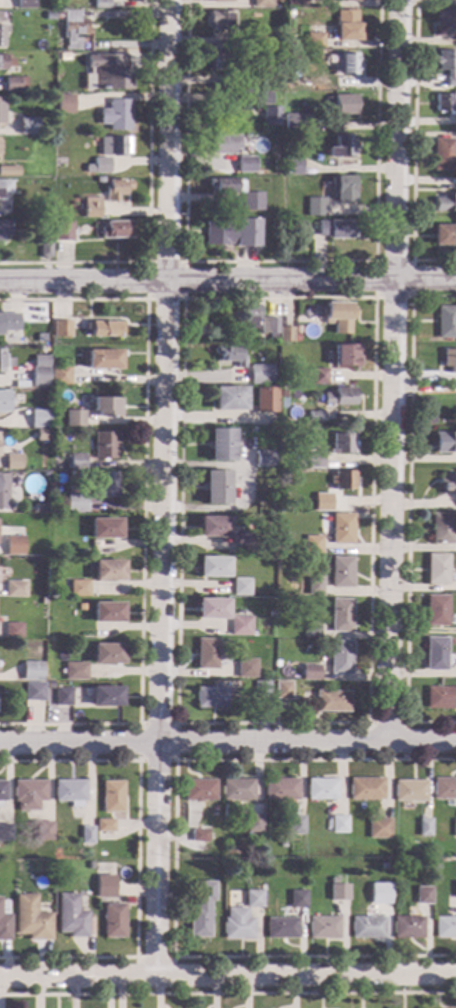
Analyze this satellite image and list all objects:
building: (351, 0)
building: (222, 1)
building: (297, 3)
building: (25, 4)
building: (102, 4)
building: (262, 4)
building: (51, 16)
building: (221, 21)
building: (446, 22)
building: (348, 26)
building: (75, 29)
building: (2, 34)
building: (244, 41)
building: (317, 41)
building: (60, 50)
building: (223, 61)
building: (5, 63)
building: (349, 64)
building: (448, 65)
building: (110, 72)
building: (262, 79)
building: (25, 81)
building: (12, 84)
building: (261, 99)
building: (445, 102)
building: (65, 104)
building: (344, 105)
building: (1, 113)
building: (117, 115)
building: (271, 116)
building: (293, 122)
building: (28, 126)
building: (221, 144)
building: (115, 147)
building: (341, 147)
road: (414, 152)
building: (444, 155)
building: (245, 164)
building: (102, 165)
building: (293, 165)
building: (272, 167)
building: (89, 169)
building: (9, 171)
building: (100, 180)
building: (226, 185)
building: (5, 188)
building: (343, 188)
building: (116, 190)
building: (252, 202)
building: (446, 203)
road: (147, 204)
building: (316, 207)
building: (92, 208)
building: (337, 229)
building: (4, 230)
building: (116, 230)
building: (65, 232)
building: (225, 234)
building: (444, 235)
building: (45, 250)
road: (278, 262)
road: (228, 280)
road: (375, 297)
road: (181, 299)
road: (183, 299)
building: (250, 316)
building: (339, 317)
building: (446, 322)
building: (8, 323)
building: (270, 327)
building: (62, 329)
building: (104, 329)
building: (287, 334)
building: (297, 339)
building: (231, 355)
building: (348, 356)
building: (104, 359)
building: (450, 360)
building: (4, 362)
building: (40, 371)
road: (393, 371)
building: (260, 375)
building: (60, 376)
building: (320, 376)
building: (282, 394)
building: (341, 397)
building: (230, 399)
building: (266, 400)
building: (3, 402)
building: (106, 407)
building: (315, 416)
building: (74, 418)
building: (39, 419)
building: (41, 435)
building: (445, 443)
building: (343, 444)
building: (105, 445)
building: (221, 446)
building: (263, 459)
building: (315, 461)
building: (13, 462)
building: (77, 463)
building: (301, 465)
building: (343, 481)
building: (447, 482)
building: (105, 485)
road: (163, 488)
building: (216, 488)
building: (3, 491)
building: (76, 503)
building: (328, 503)
road: (142, 508)
road: (407, 514)
building: (50, 518)
building: (214, 527)
building: (343, 528)
building: (105, 529)
building: (442, 529)
building: (244, 544)
building: (313, 545)
building: (14, 546)
building: (270, 548)
building: (213, 567)
building: (437, 569)
building: (108, 570)
building: (342, 572)
building: (315, 586)
building: (241, 587)
building: (15, 588)
building: (79, 589)
building: (82, 607)
building: (212, 609)
building: (436, 611)
building: (108, 612)
building: (341, 615)
building: (240, 626)
building: (311, 630)
building: (12, 631)
building: (107, 654)
building: (207, 654)
building: (435, 654)
building: (341, 657)
building: (246, 668)
building: (32, 671)
building: (74, 672)
building: (310, 672)
building: (50, 686)
building: (261, 690)
building: (283, 690)
building: (34, 692)
building: (63, 697)
building: (107, 697)
building: (211, 698)
building: (441, 698)
building: (332, 702)
road: (403, 723)
road: (227, 743)
road: (175, 760)
building: (281, 789)
building: (322, 789)
building: (366, 789)
building: (444, 789)
building: (199, 790)
building: (237, 790)
building: (3, 791)
building: (410, 791)
building: (71, 792)
building: (29, 794)
building: (113, 797)
building: (254, 823)
building: (339, 824)
building: (297, 825)
building: (102, 826)
building: (424, 827)
building: (379, 828)
building: (454, 828)
building: (44, 831)
building: (6, 833)
building: (85, 835)
building: (199, 836)
road: (137, 857)
road: (173, 860)
building: (86, 865)
building: (383, 866)
building: (100, 887)
building: (455, 890)
building: (334, 893)
building: (376, 894)
building: (423, 896)
building: (253, 899)
building: (297, 899)
building: (201, 910)
building: (71, 917)
building: (32, 919)
building: (91, 920)
building: (114, 921)
building: (4, 922)
building: (237, 925)
building: (407, 927)
building: (445, 927)
building: (280, 928)
building: (322, 928)
building: (367, 928)
road: (136, 957)
road: (227, 976)
road: (228, 994)

